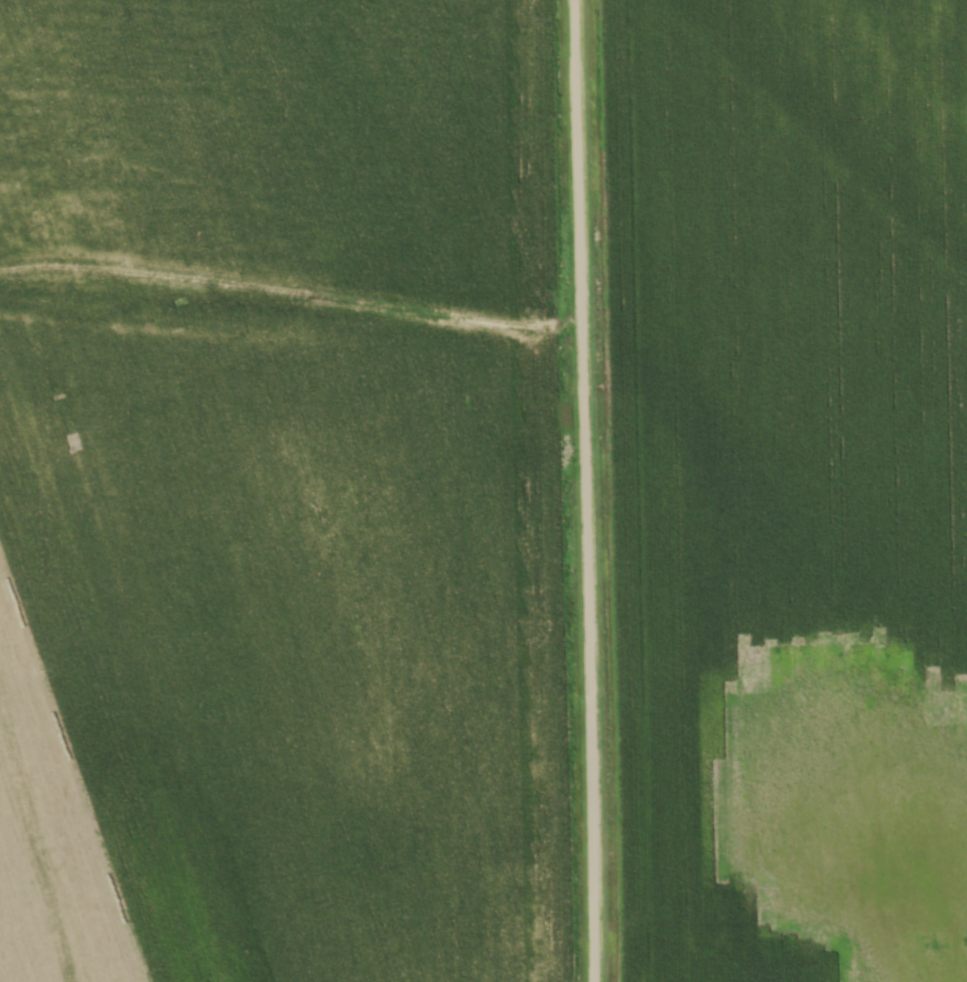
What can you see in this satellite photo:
road: (590, 490)

